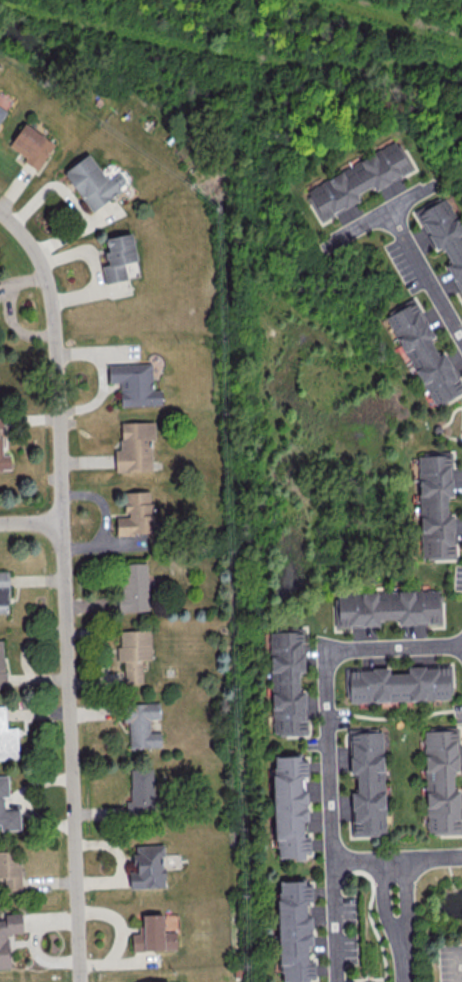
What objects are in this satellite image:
building: (2, 112)
building: (31, 145)
building: (358, 179)
building: (92, 181)
building: (444, 233)
building: (117, 256)
road: (424, 275)
building: (424, 353)
building: (134, 383)
building: (2, 429)
building: (134, 446)
building: (435, 506)
building: (136, 514)
road: (32, 522)
building: (133, 587)
road: (65, 588)
building: (3, 591)
building: (386, 607)
building: (133, 652)
building: (1, 665)
building: (287, 682)
building: (399, 683)
building: (141, 723)
building: (7, 738)
road: (328, 755)
building: (441, 781)
building: (367, 782)
building: (141, 792)
building: (289, 807)
building: (7, 809)
building: (147, 866)
building: (10, 869)
road: (369, 910)
road: (336, 919)
road: (404, 925)
building: (294, 931)
building: (153, 935)
building: (4, 950)
road: (360, 979)

